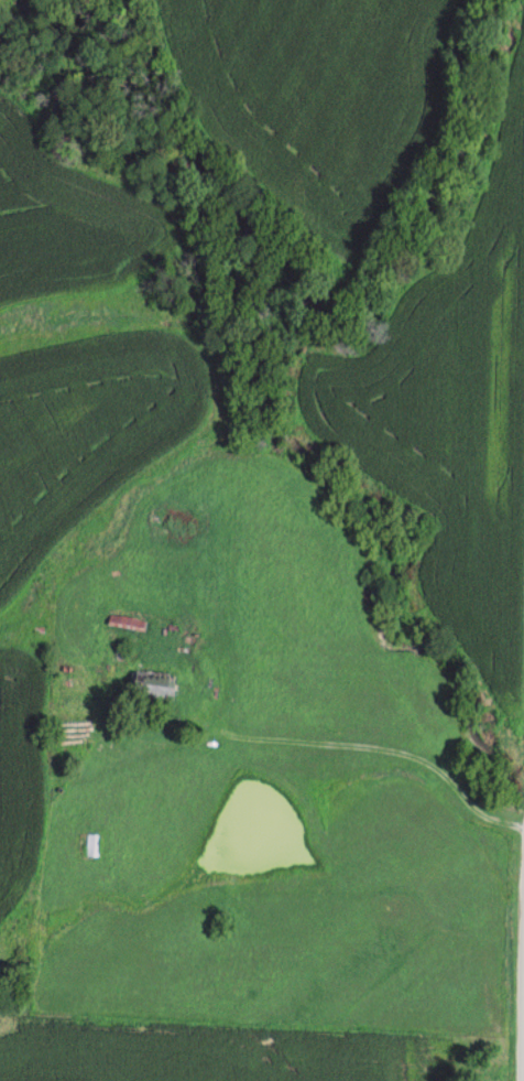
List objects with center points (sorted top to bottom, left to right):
building: (162, 685)
road: (390, 752)
road: (523, 980)

